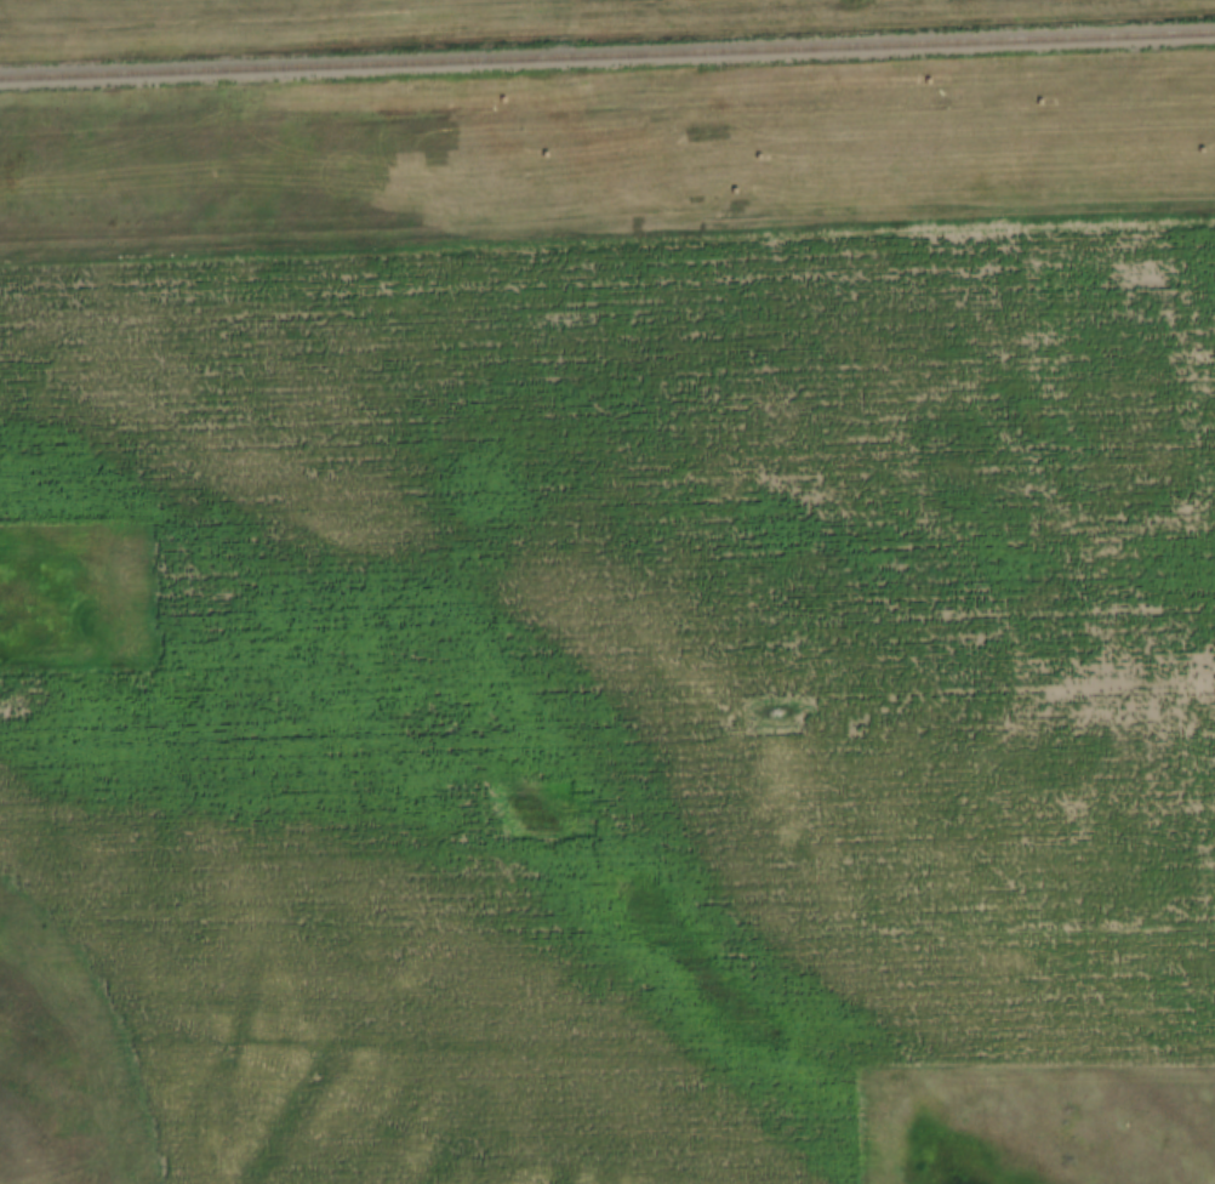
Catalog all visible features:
railway: (606, 30)

